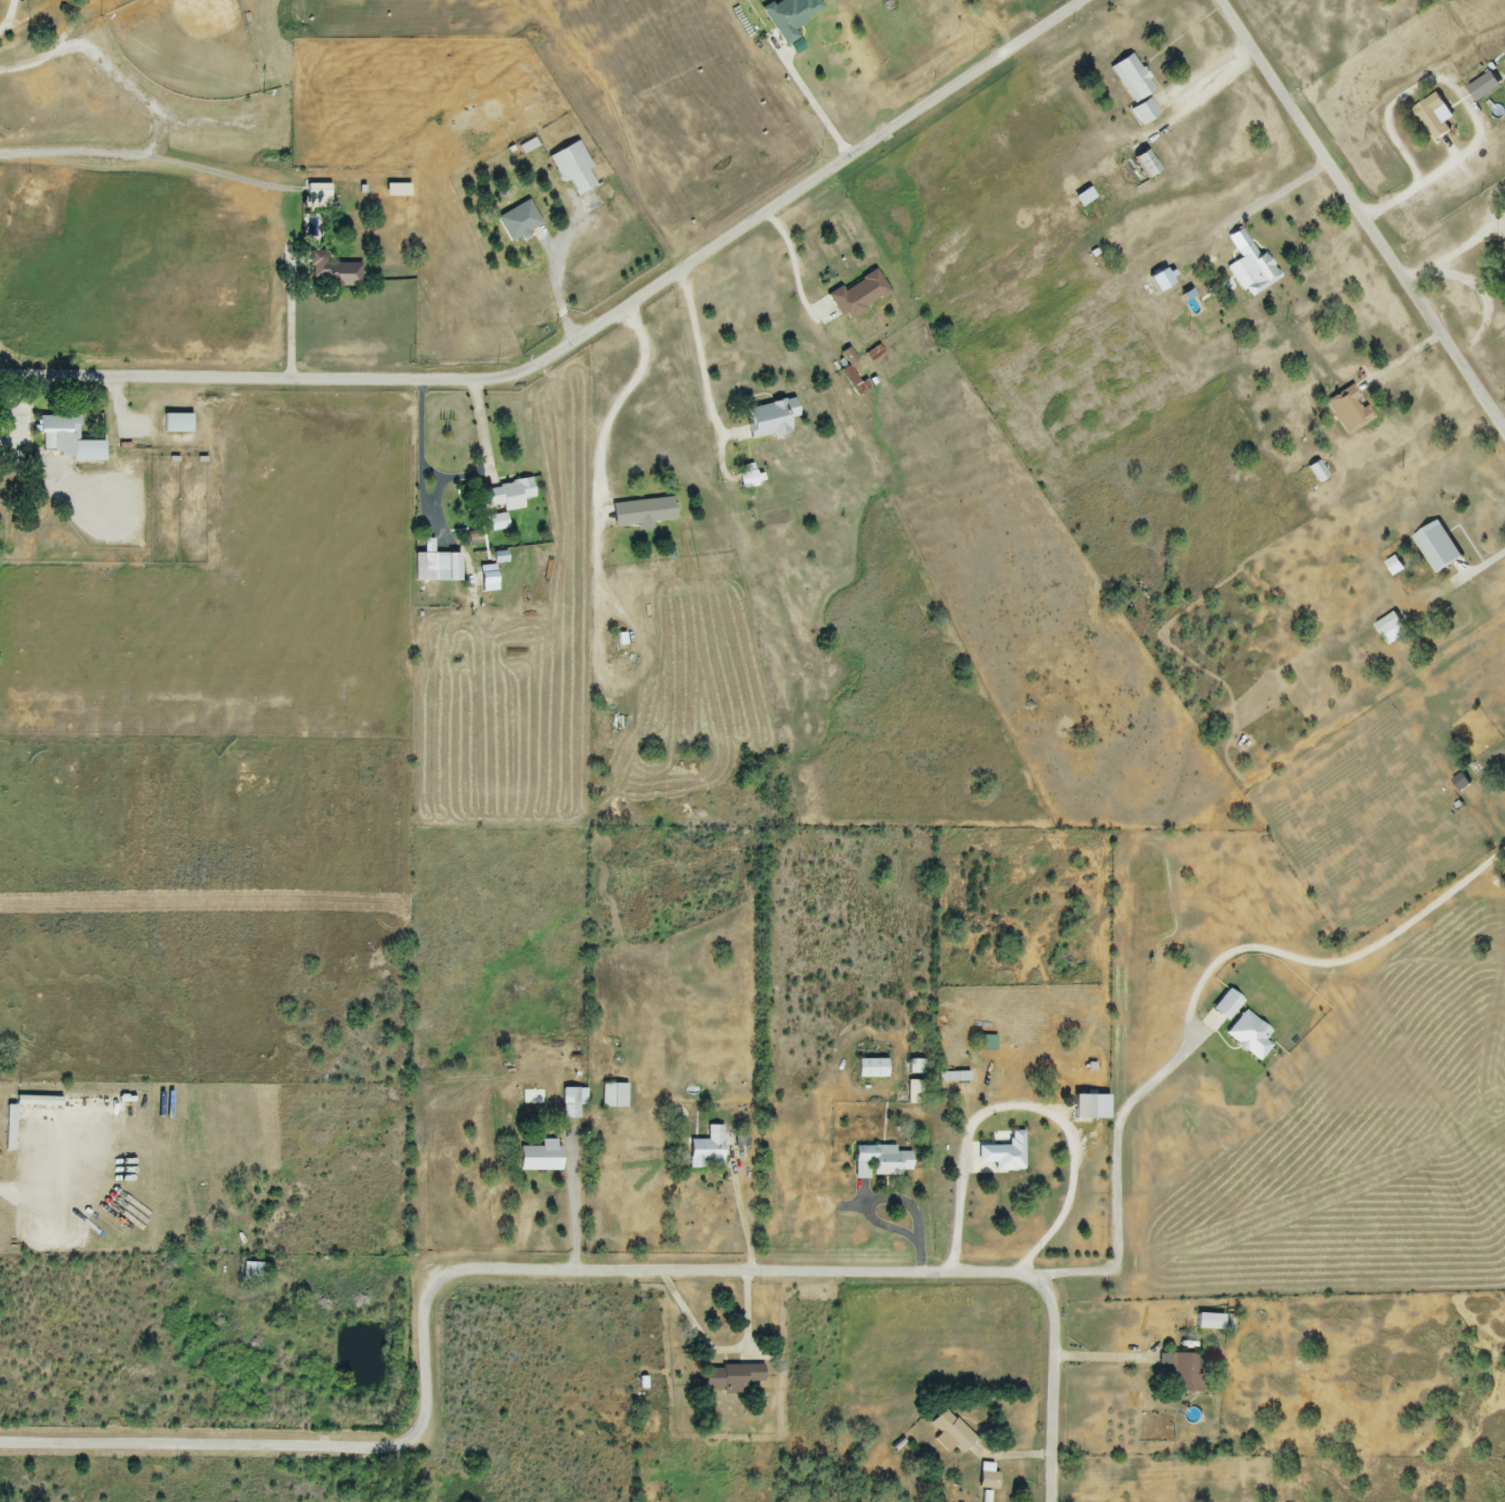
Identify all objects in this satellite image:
building: (788, 16)
road: (108, 68)
road: (1211, 73)
building: (1131, 78)
road: (809, 98)
building: (1143, 112)
building: (1432, 117)
road: (141, 155)
building: (1144, 164)
building: (576, 176)
road: (1416, 187)
road: (1286, 193)
building: (316, 196)
building: (1083, 197)
road: (1363, 212)
building: (518, 222)
building: (1503, 248)
road: (793, 267)
building: (1254, 269)
road: (558, 271)
building: (333, 273)
road: (1482, 287)
building: (858, 295)
road: (292, 319)
road: (587, 337)
road: (702, 358)
road: (1405, 360)
road: (621, 407)
building: (1348, 412)
building: (768, 419)
building: (175, 424)
road: (486, 435)
building: (64, 438)
road: (423, 471)
building: (1316, 472)
road: (441, 484)
building: (508, 495)
building: (641, 512)
building: (1436, 548)
road: (1488, 564)
building: (430, 567)
building: (1390, 629)
building: (1459, 783)
building: (913, 1067)
building: (869, 1069)
building: (952, 1077)
building: (612, 1096)
building: (568, 1104)
road: (1031, 1107)
building: (1081, 1108)
building: (706, 1151)
building: (1004, 1153)
building: (540, 1157)
building: (883, 1160)
road: (1118, 1165)
road: (886, 1197)
road: (574, 1208)
road: (746, 1225)
road: (556, 1272)
building: (250, 1274)
road: (722, 1353)
road: (1105, 1358)
building: (1181, 1373)
building: (729, 1378)
building: (949, 1434)
building: (986, 1481)

